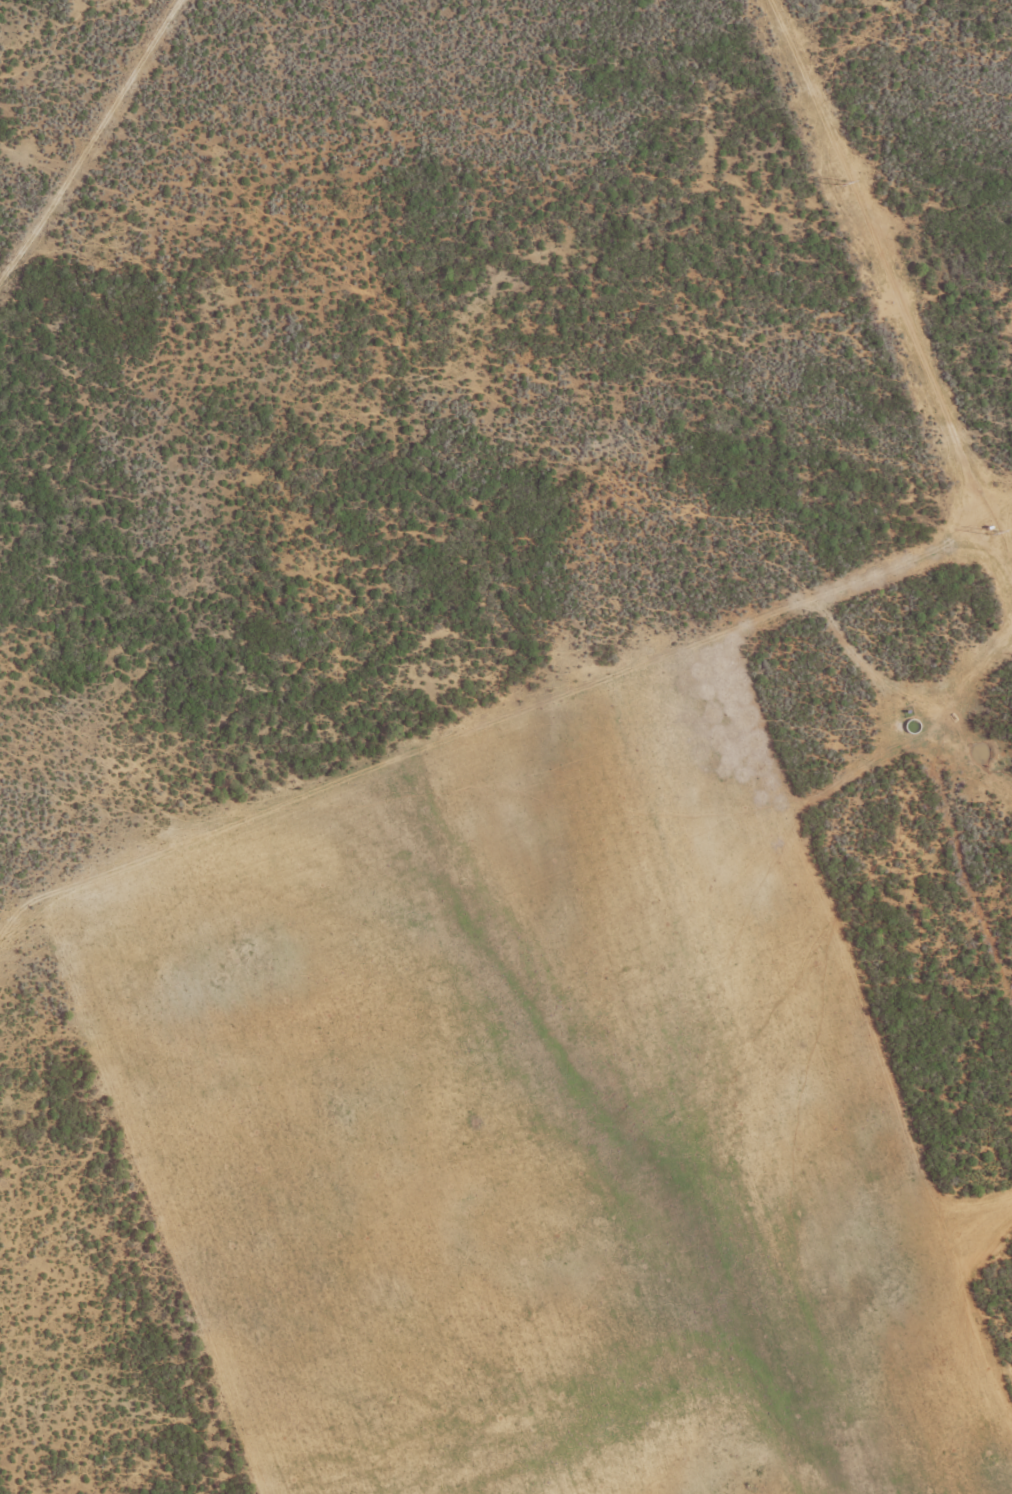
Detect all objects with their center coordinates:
road: (92, 150)
power tower: (838, 183)
power tower: (988, 534)

